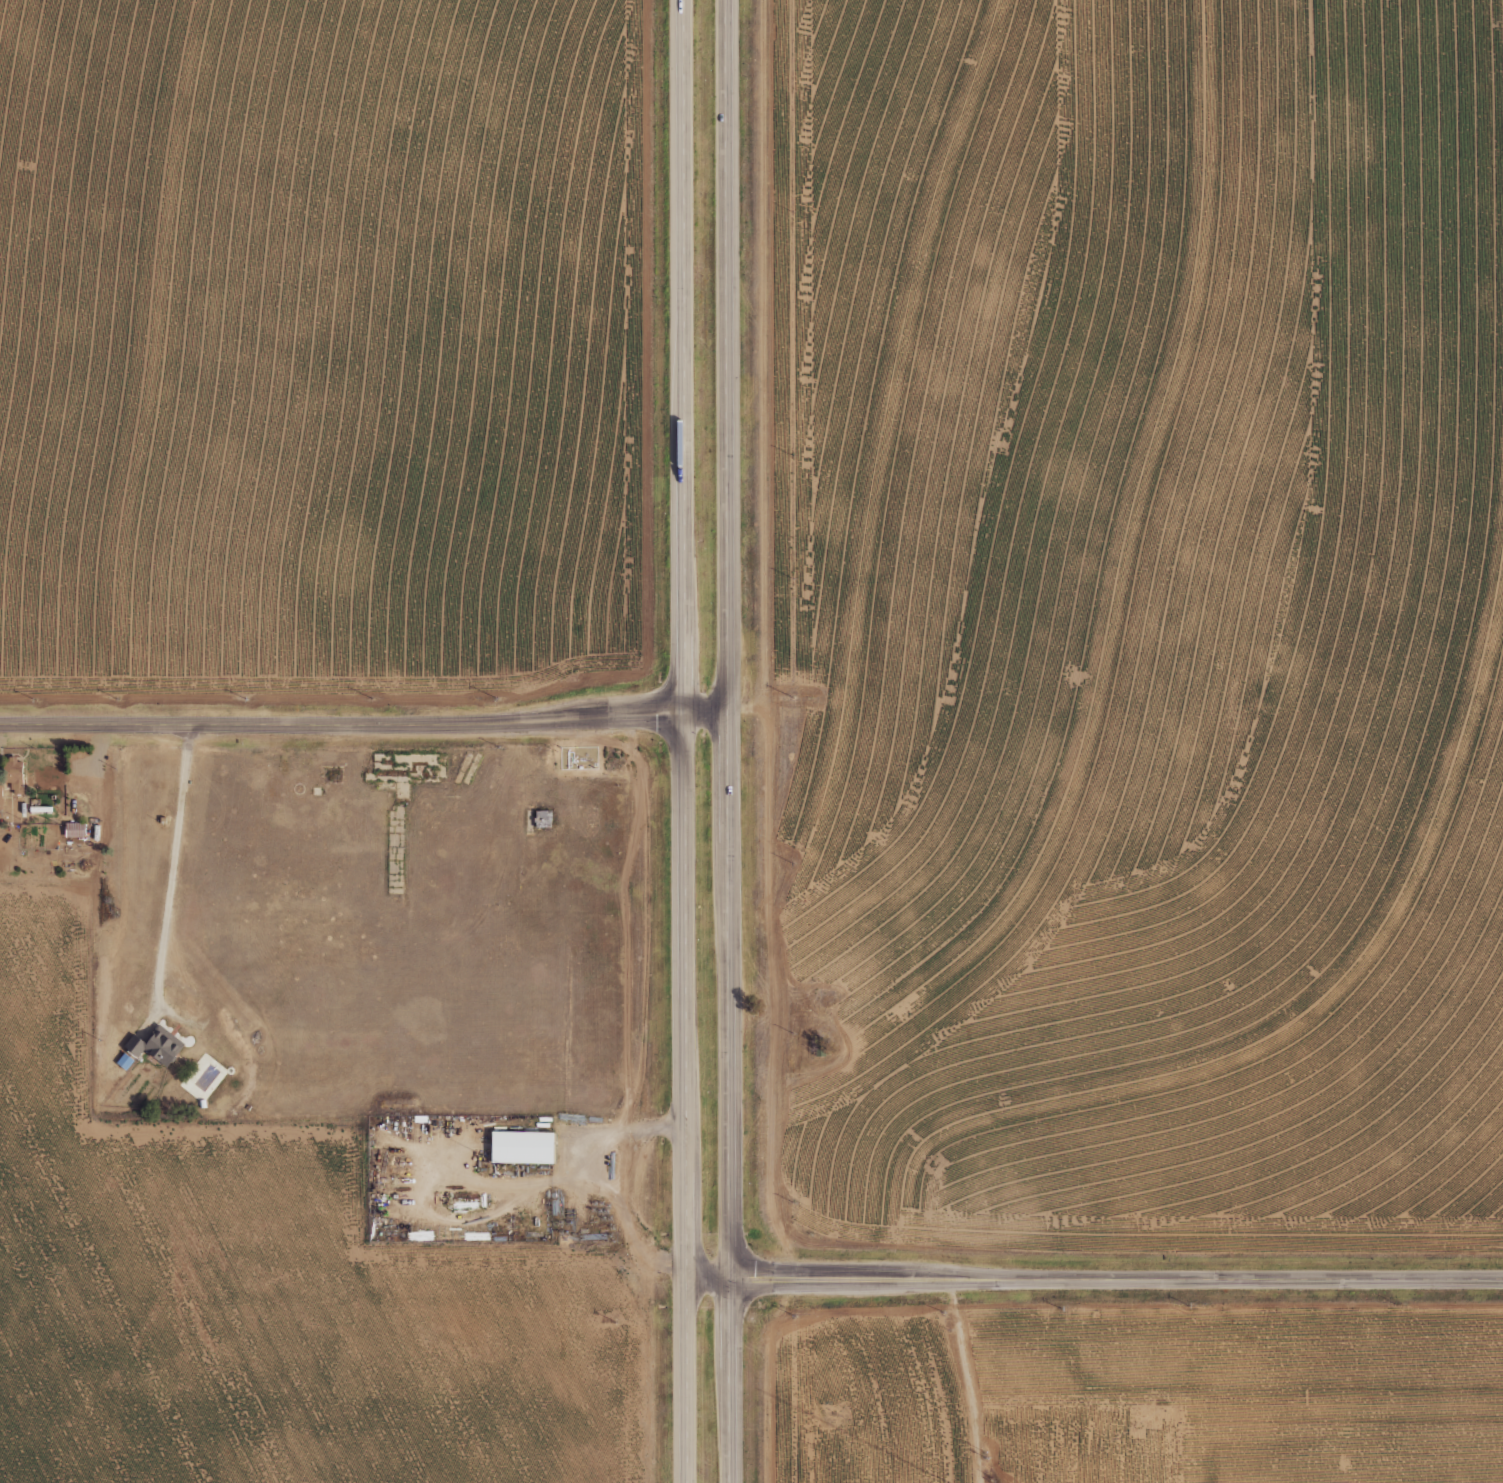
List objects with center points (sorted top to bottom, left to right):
road: (733, 356)
road: (681, 357)
road: (707, 713)
road: (339, 714)
road: (174, 857)
road: (734, 997)
road: (682, 998)
building: (164, 1051)
building: (524, 1148)
road: (598, 1176)
road: (1094, 1281)
road: (686, 1383)
road: (732, 1383)

